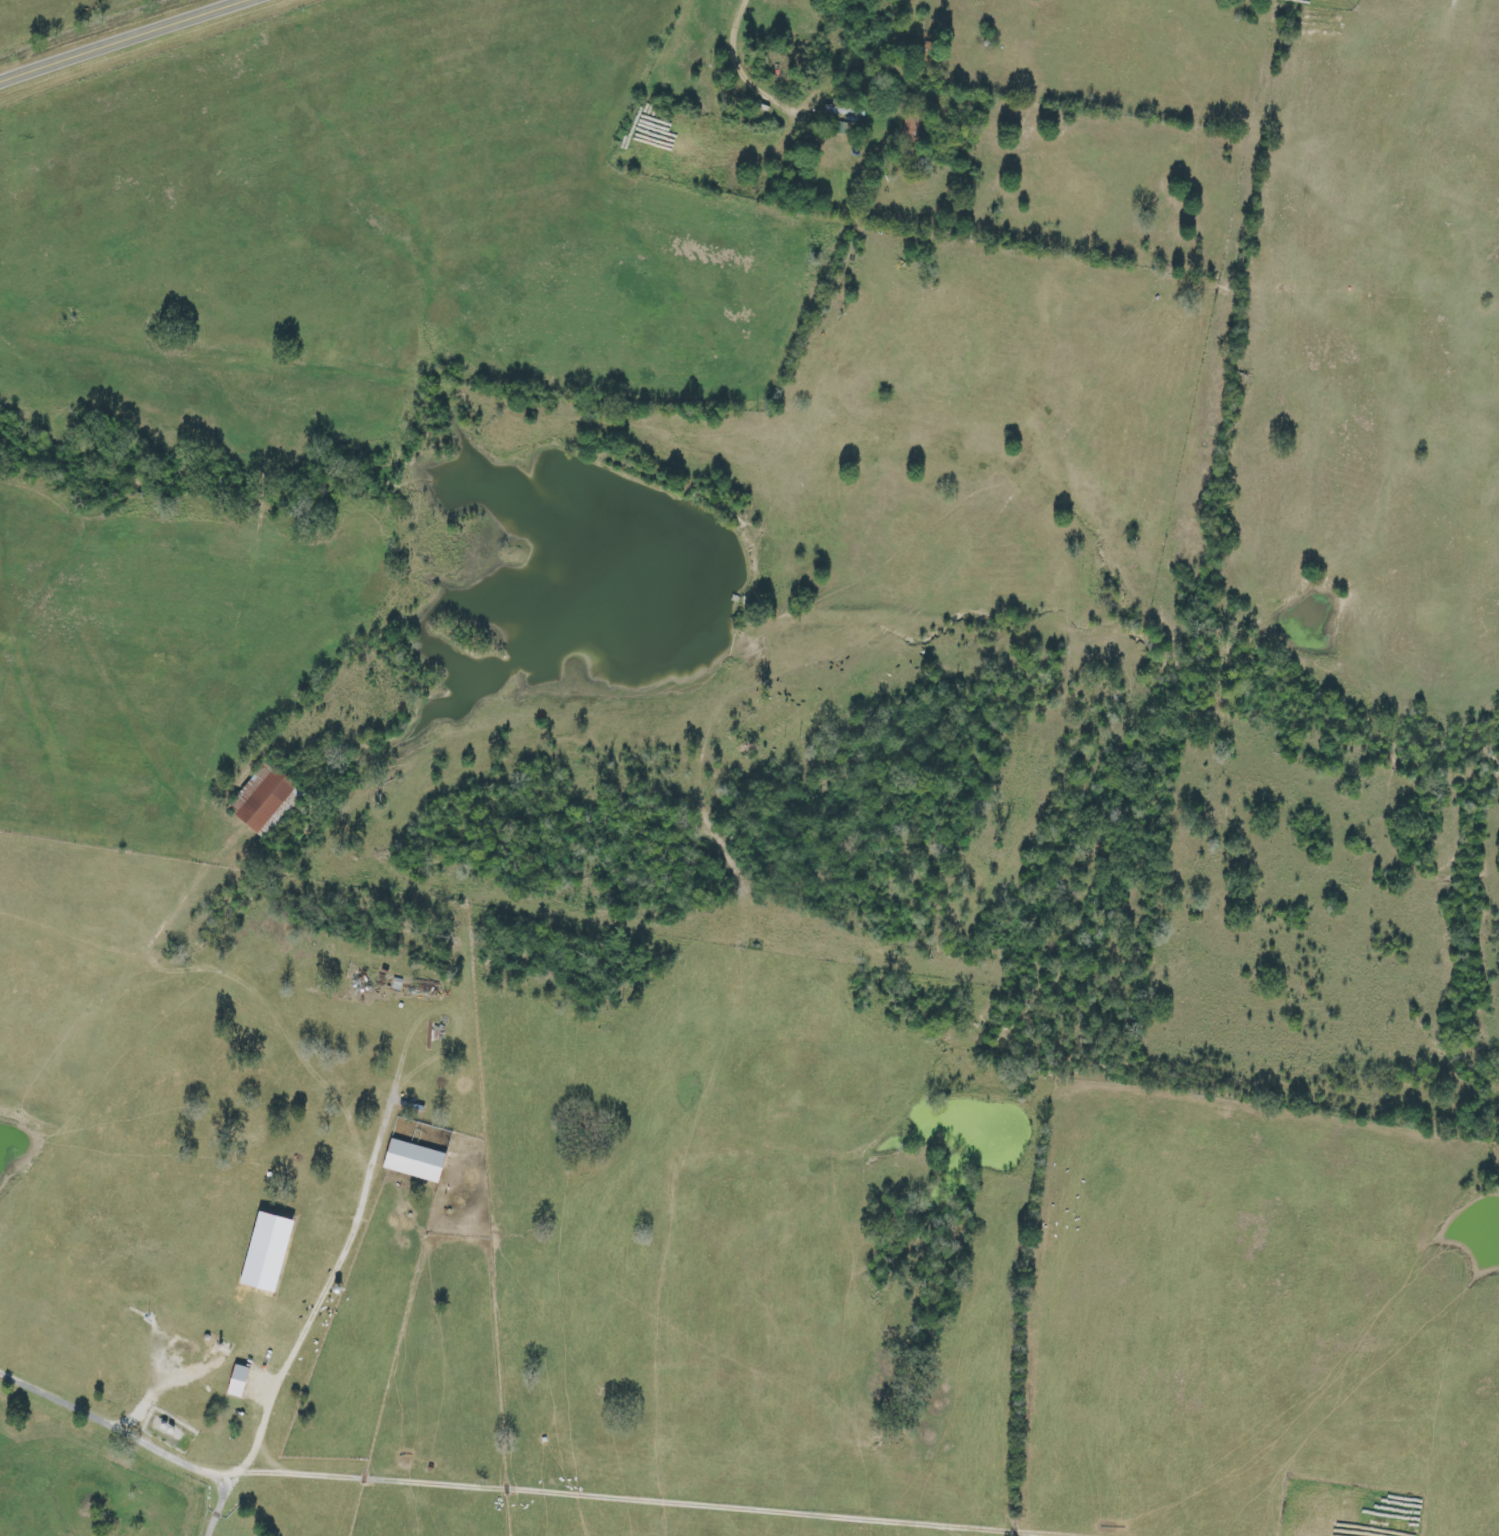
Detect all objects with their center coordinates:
road: (121, 39)
building: (259, 797)
building: (412, 1161)
building: (263, 1252)
building: (235, 1381)

